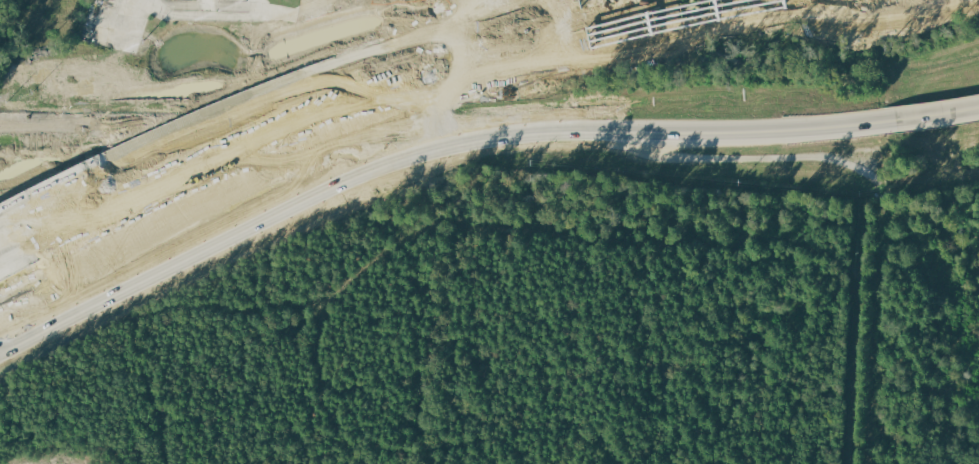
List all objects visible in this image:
building: (209, 5)
road: (672, 16)
road: (174, 60)
road: (276, 92)
road: (936, 117)
road: (725, 133)
road: (286, 136)
road: (270, 224)
road: (36, 329)

